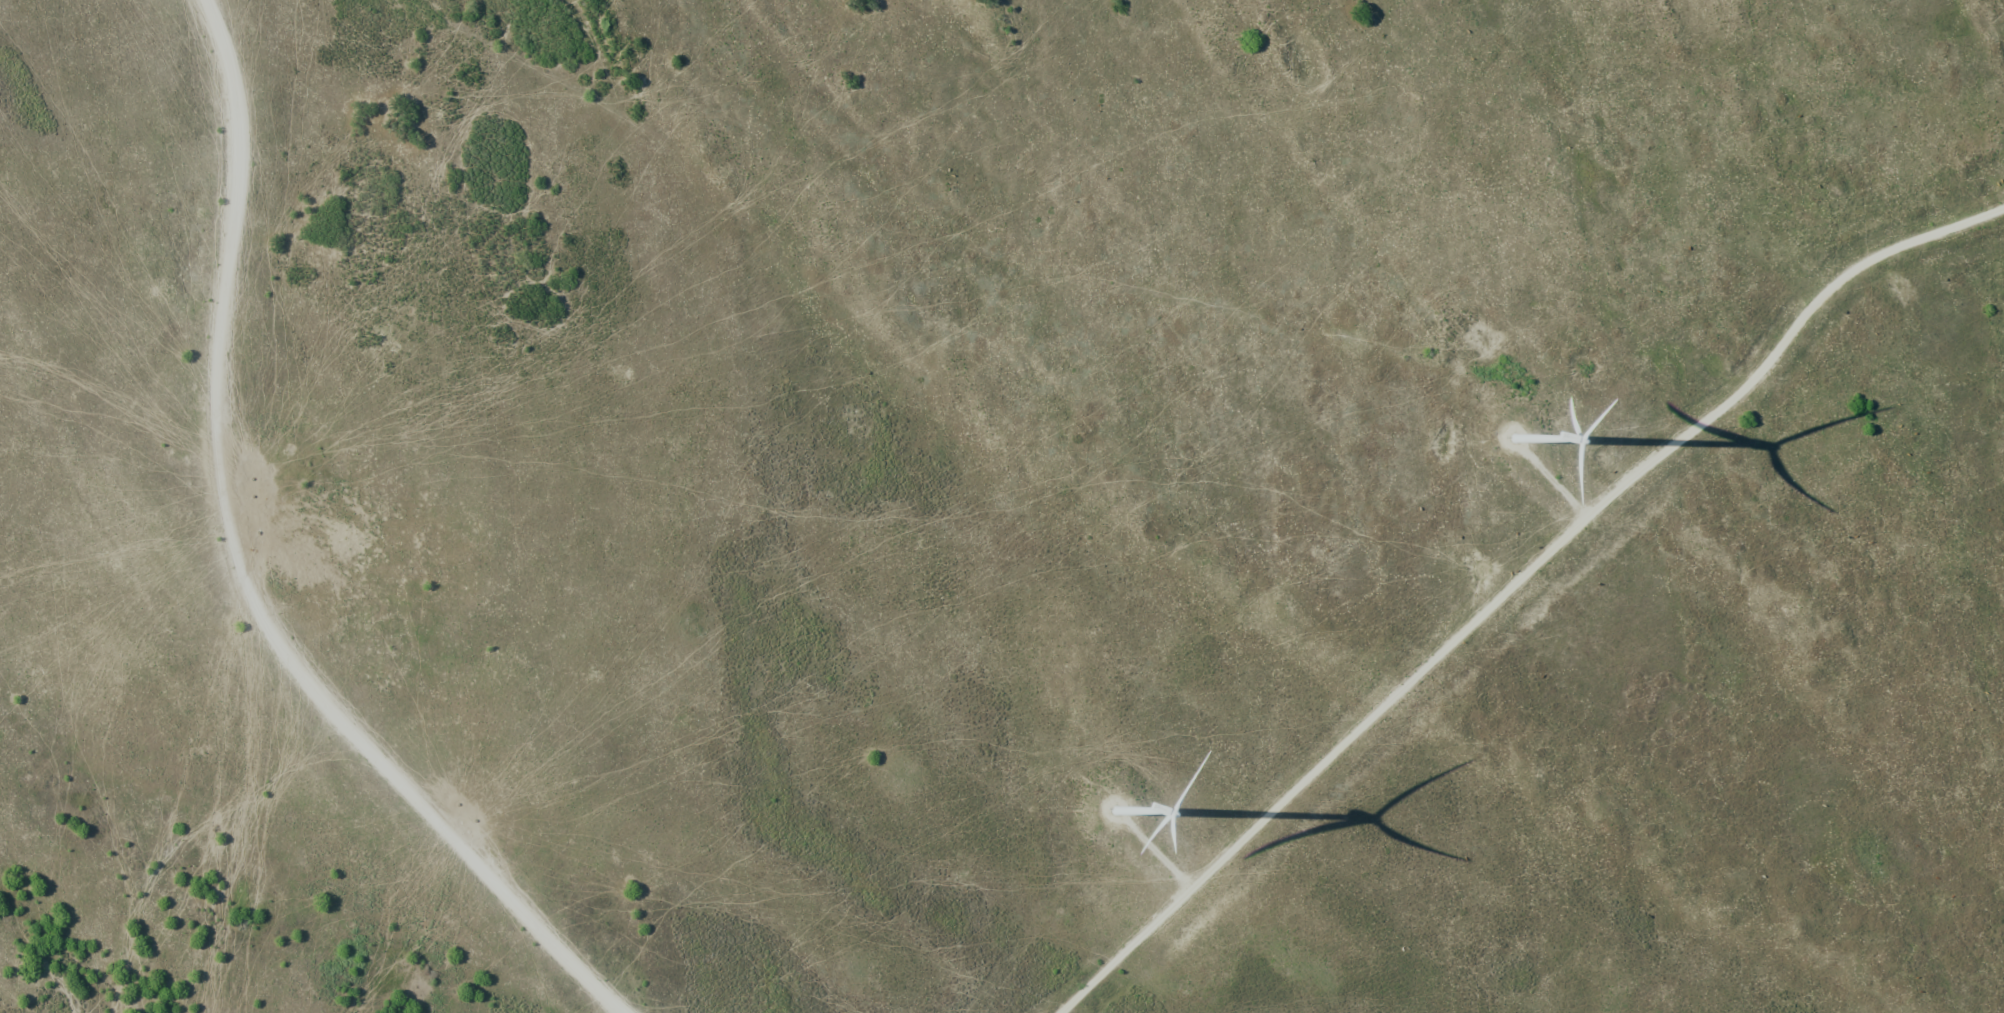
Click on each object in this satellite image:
road: (606, 70)
wind turbine: (1522, 444)
wind turbine: (1125, 813)

